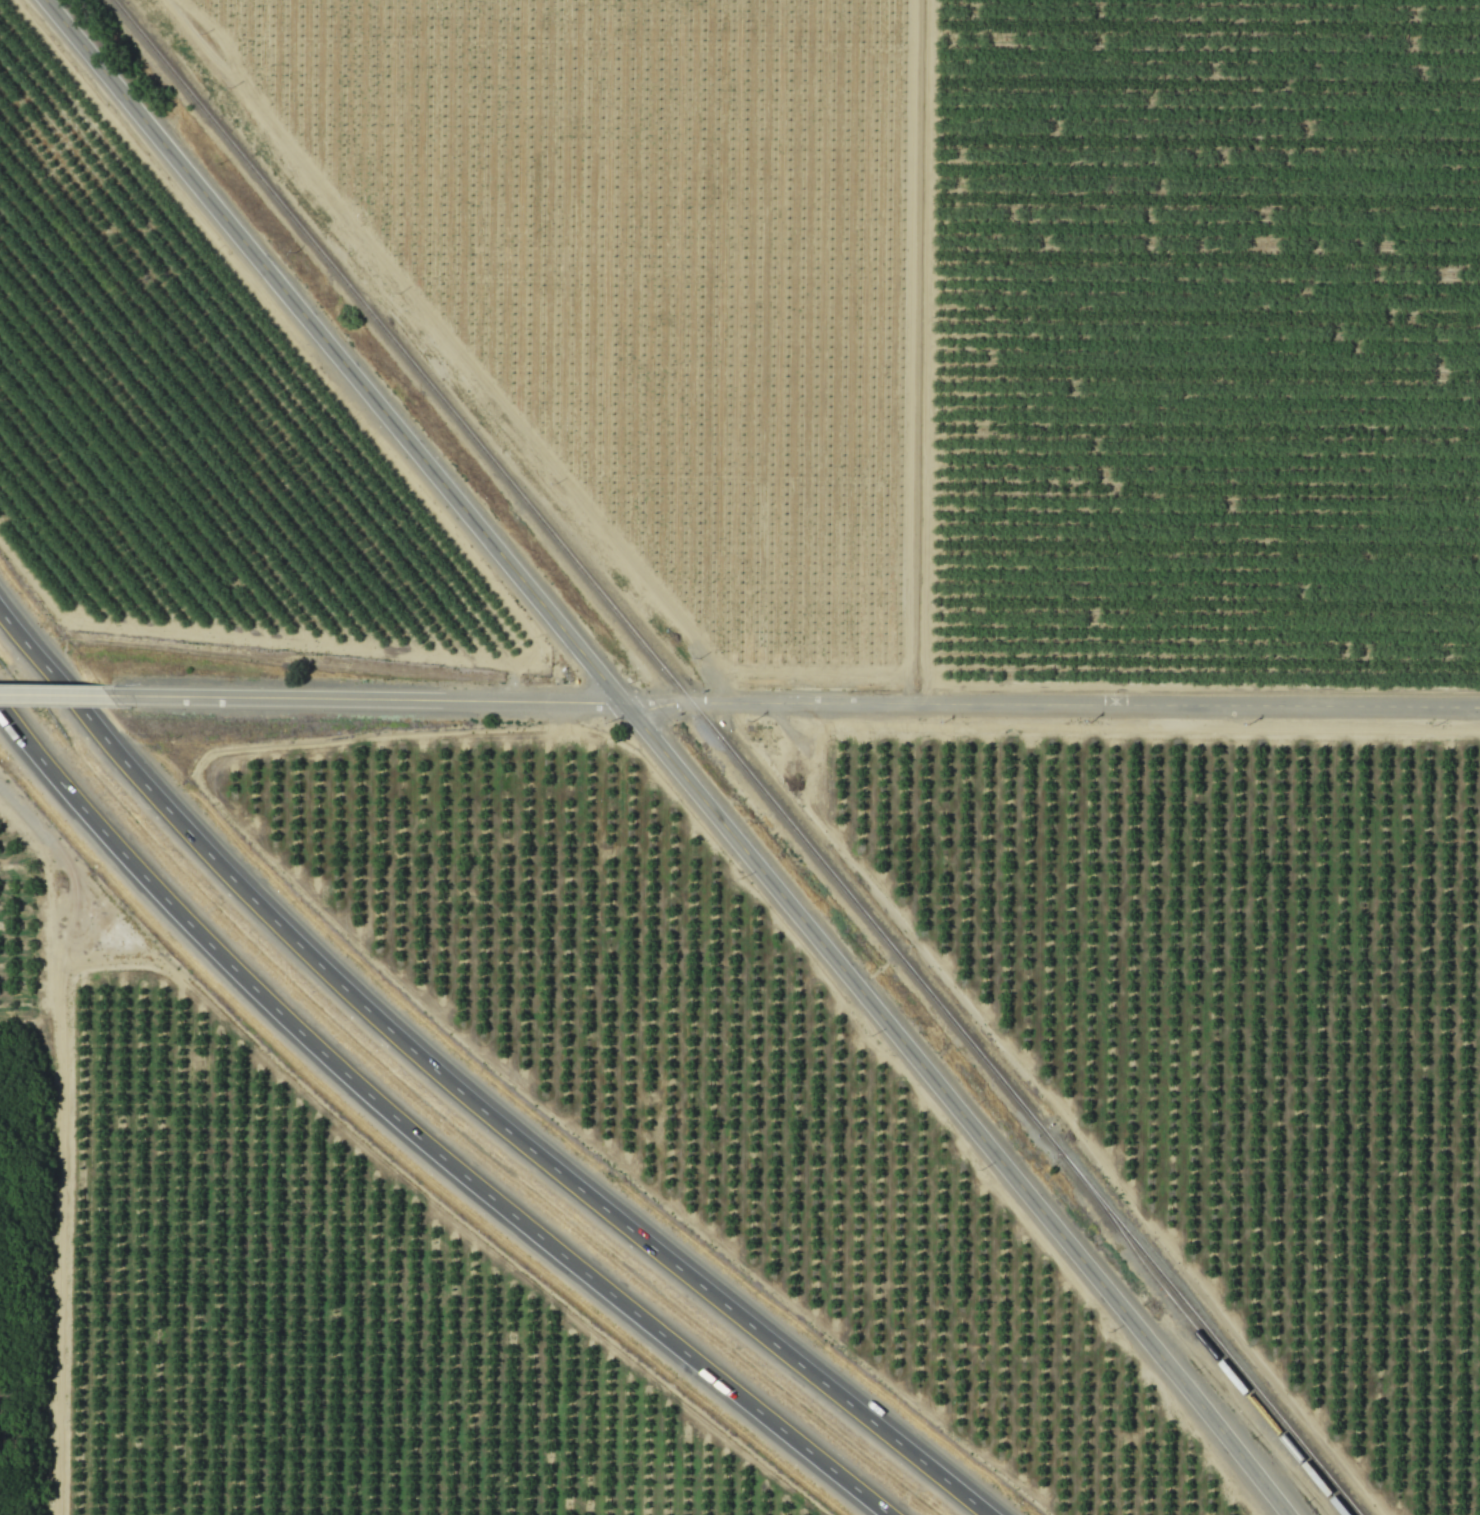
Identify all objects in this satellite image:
road: (448, 343)
road: (918, 350)
road: (904, 351)
road: (804, 699)
road: (64, 703)
road: (661, 756)
railway: (734, 756)
road: (46, 839)
road: (461, 1092)
road: (418, 1136)

